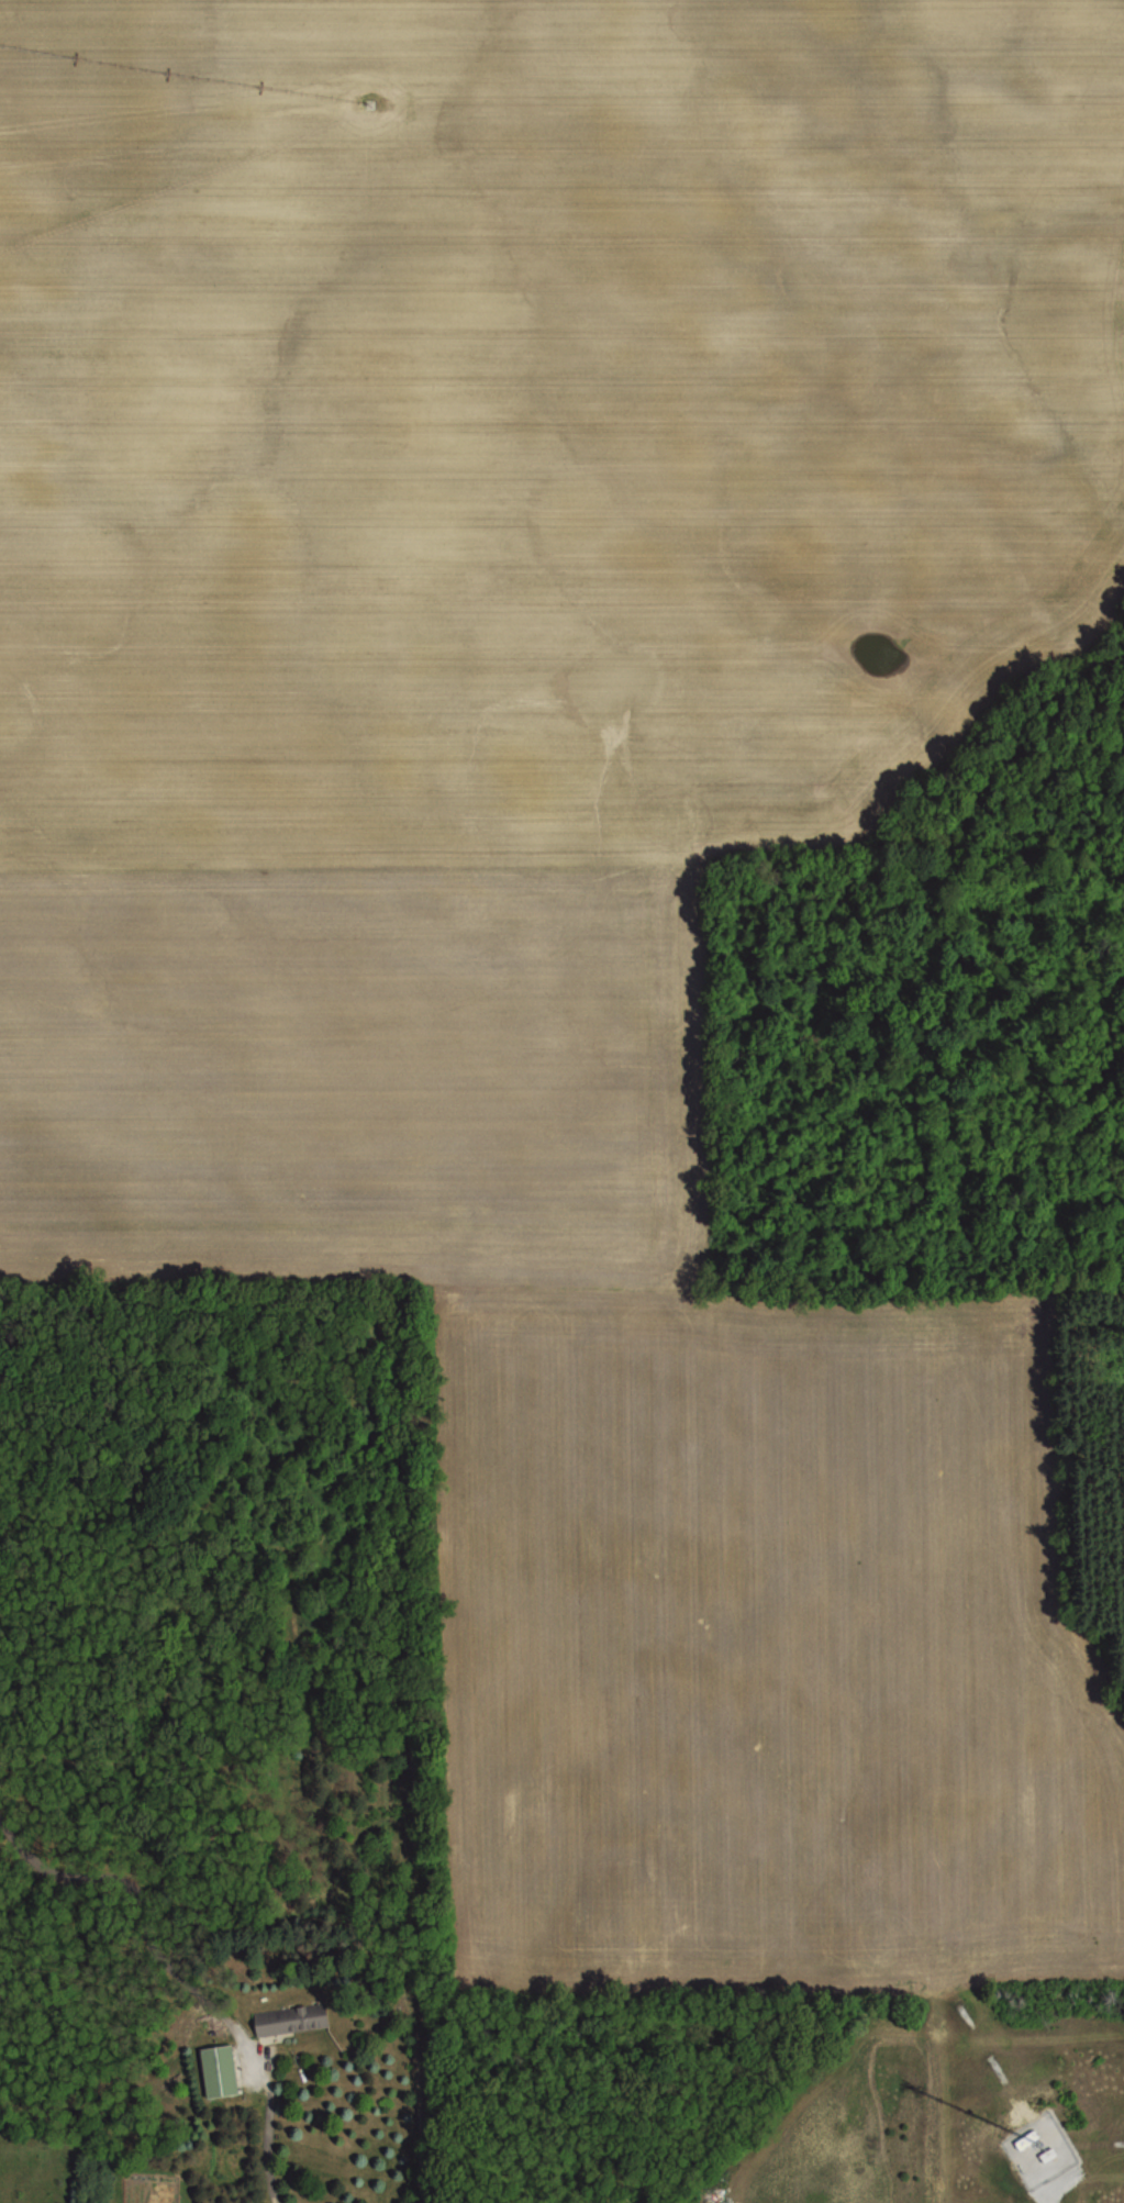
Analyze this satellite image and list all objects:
road: (146, 1920)
building: (289, 2018)
building: (214, 2069)
building: (1023, 2139)

